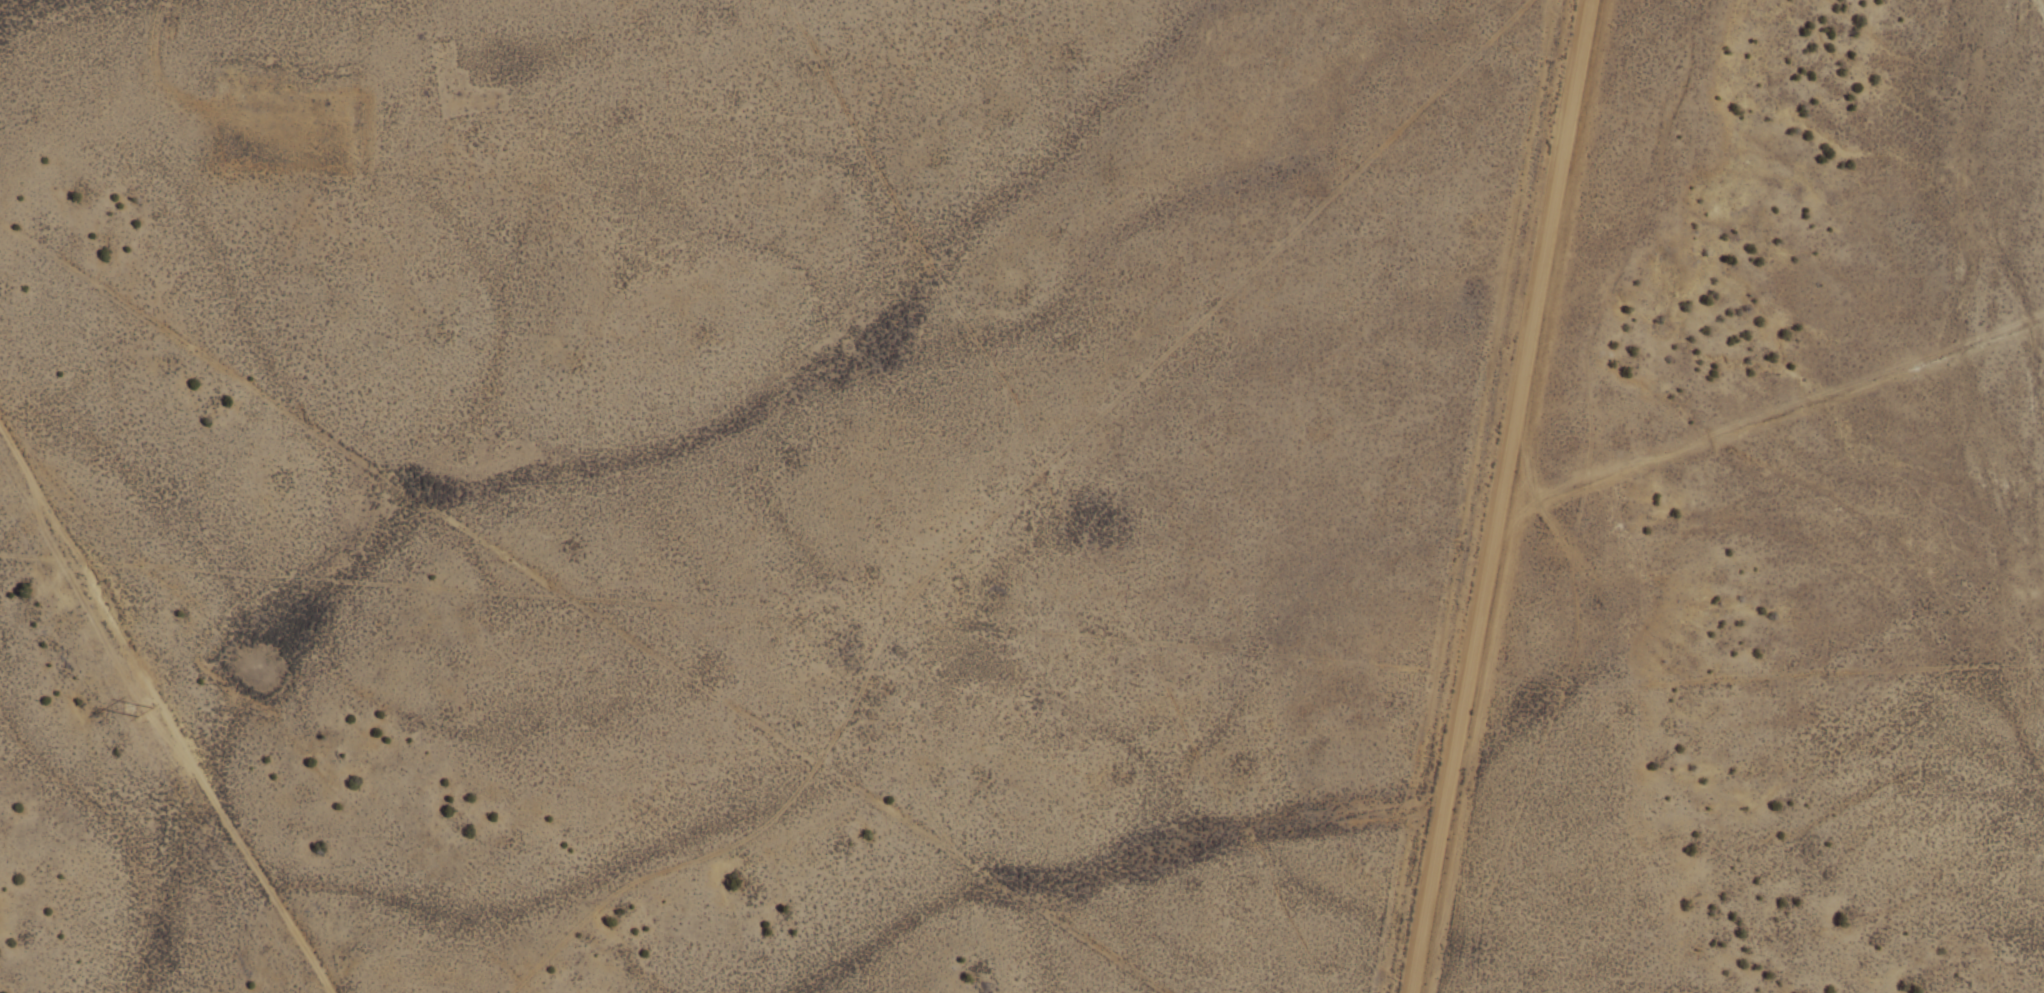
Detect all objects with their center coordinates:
road: (2039, 7)
road: (1494, 496)
road: (1258, 575)
power tower: (138, 710)

